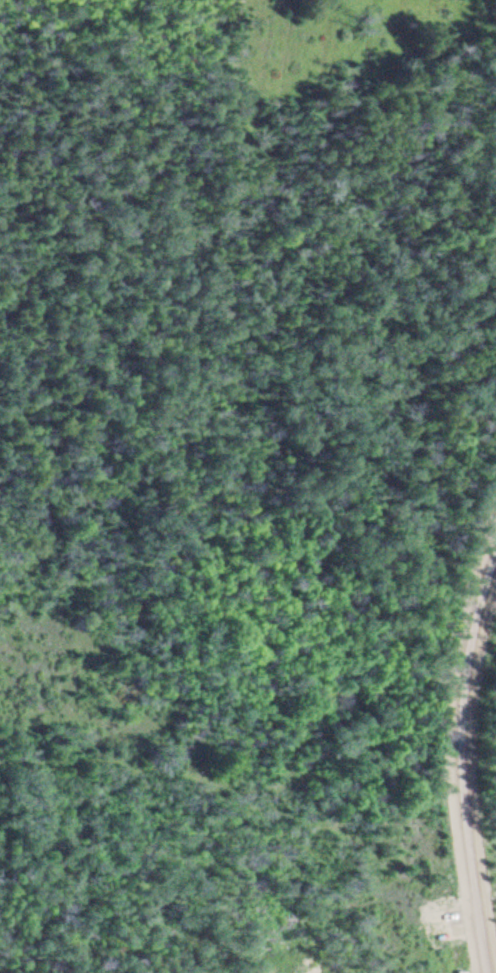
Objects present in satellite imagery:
park: (116, 79)
quarry: (244, 932)

